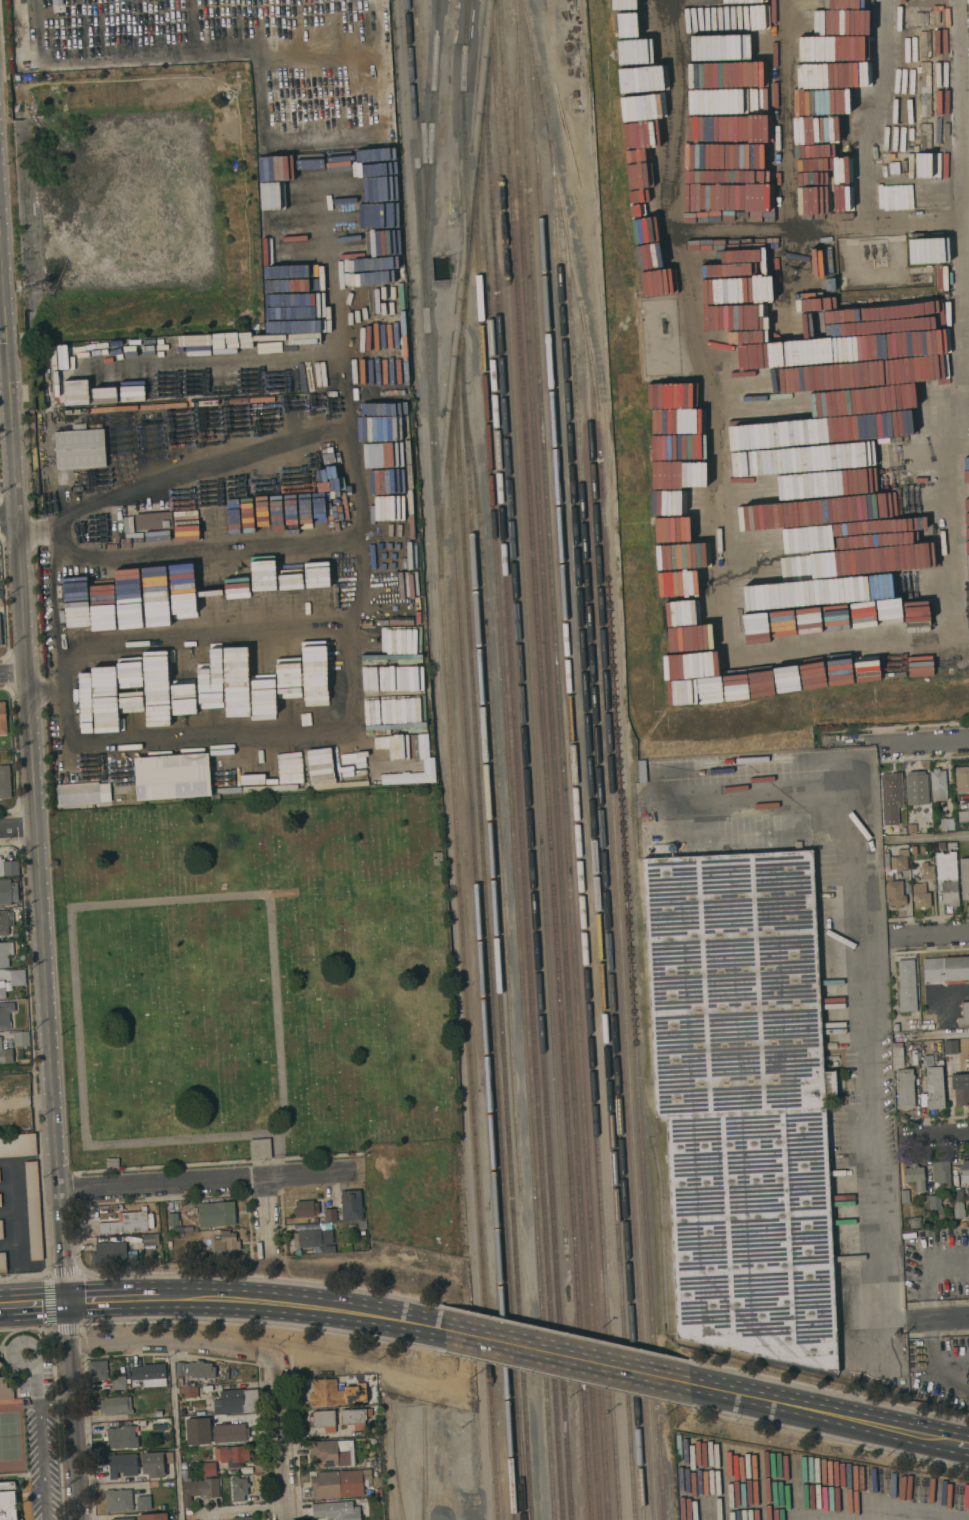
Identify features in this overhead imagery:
building: (617, 4)
railway: (468, 13)
building: (936, 16)
building: (921, 18)
railway: (423, 96)
railway: (430, 137)
railway: (465, 139)
railway: (466, 288)
road: (336, 300)
road: (4, 364)
building: (213, 386)
building: (814, 393)
building: (80, 448)
building: (804, 476)
road: (8, 519)
building: (153, 520)
road: (208, 549)
building: (314, 589)
railway: (530, 628)
building: (0, 634)
road: (205, 640)
road: (348, 654)
road: (8, 672)
road: (13, 673)
road: (46, 686)
building: (3, 718)
road: (924, 741)
road: (13, 749)
railway: (619, 757)
railway: (563, 759)
railway: (453, 760)
railway: (547, 760)
road: (31, 766)
railway: (575, 769)
railway: (556, 771)
building: (172, 774)
building: (962, 779)
building: (4, 781)
building: (938, 784)
railway: (528, 788)
building: (918, 792)
building: (82, 793)
railway: (498, 795)
building: (890, 797)
building: (963, 815)
railway: (521, 817)
building: (946, 823)
road: (17, 826)
road: (17, 828)
railway: (594, 829)
road: (929, 837)
railway: (514, 844)
building: (952, 846)
building: (924, 849)
building: (914, 850)
railway: (606, 862)
building: (11, 867)
building: (925, 870)
building: (889, 877)
building: (947, 877)
building: (964, 877)
building: (8, 892)
building: (921, 895)
road: (95, 904)
railway: (496, 908)
railway: (621, 914)
building: (5, 921)
road: (939, 934)
railway: (489, 938)
building: (4, 953)
railway: (482, 966)
building: (946, 968)
road: (860, 974)
building: (18, 977)
park: (254, 977)
building: (907, 985)
building: (2, 989)
building: (5, 1014)
building: (964, 1014)
building: (929, 1020)
building: (895, 1026)
road: (933, 1036)
building: (22, 1039)
building: (950, 1046)
building: (5, 1054)
building: (903, 1079)
road: (34, 1083)
building: (935, 1087)
building: (960, 1088)
building: (743, 1100)
road: (937, 1134)
building: (18, 1145)
building: (259, 1145)
building: (965, 1171)
building: (941, 1174)
building: (915, 1175)
road: (205, 1180)
railway: (666, 1191)
building: (905, 1196)
building: (0, 1199)
building: (934, 1201)
building: (958, 1203)
building: (352, 1205)
building: (305, 1208)
building: (32, 1210)
building: (216, 1213)
road: (263, 1214)
building: (330, 1214)
building: (968, 1218)
building: (173, 1219)
building: (315, 1219)
building: (161, 1220)
building: (925, 1222)
building: (126, 1223)
building: (914, 1223)
building: (362, 1224)
building: (1, 1229)
building: (362, 1231)
building: (314, 1236)
building: (150, 1240)
building: (226, 1244)
building: (113, 1252)
building: (203, 1255)
building: (2, 1261)
road: (925, 1273)
road: (269, 1276)
road: (48, 1297)
road: (114, 1299)
traffic signals: (66, 1301)
road: (32, 1303)
road: (303, 1307)
road: (937, 1320)
road: (262, 1325)
road: (577, 1335)
road: (7, 1336)
road: (170, 1340)
road: (284, 1342)
road: (568, 1358)
road: (34, 1361)
building: (1, 1364)
building: (97, 1370)
building: (194, 1370)
building: (148, 1371)
road: (573, 1380)
building: (118, 1382)
road: (33, 1384)
building: (5, 1389)
building: (188, 1391)
road: (835, 1391)
building: (336, 1393)
road: (55, 1398)
building: (237, 1400)
building: (116, 1405)
road: (71, 1410)
building: (158, 1412)
road: (829, 1416)
building: (355, 1417)
building: (324, 1420)
building: (156, 1424)
park: (27, 1428)
road: (174, 1430)
building: (198, 1431)
building: (230, 1432)
building: (121, 1436)
road: (276, 1437)
park: (10, 1438)
road: (835, 1440)
road: (39, 1445)
road: (966, 1445)
building: (332, 1453)
building: (232, 1455)
building: (371, 1462)
building: (152, 1464)
building: (122, 1465)
railway: (666, 1467)
building: (209, 1468)
building: (339, 1483)
building: (199, 1488)
building: (239, 1488)
building: (378, 1491)
building: (119, 1500)
building: (8, 1501)
building: (143, 1502)
building: (336, 1510)
building: (152, 1516)
building: (123, 1518)
building: (243, 1518)

